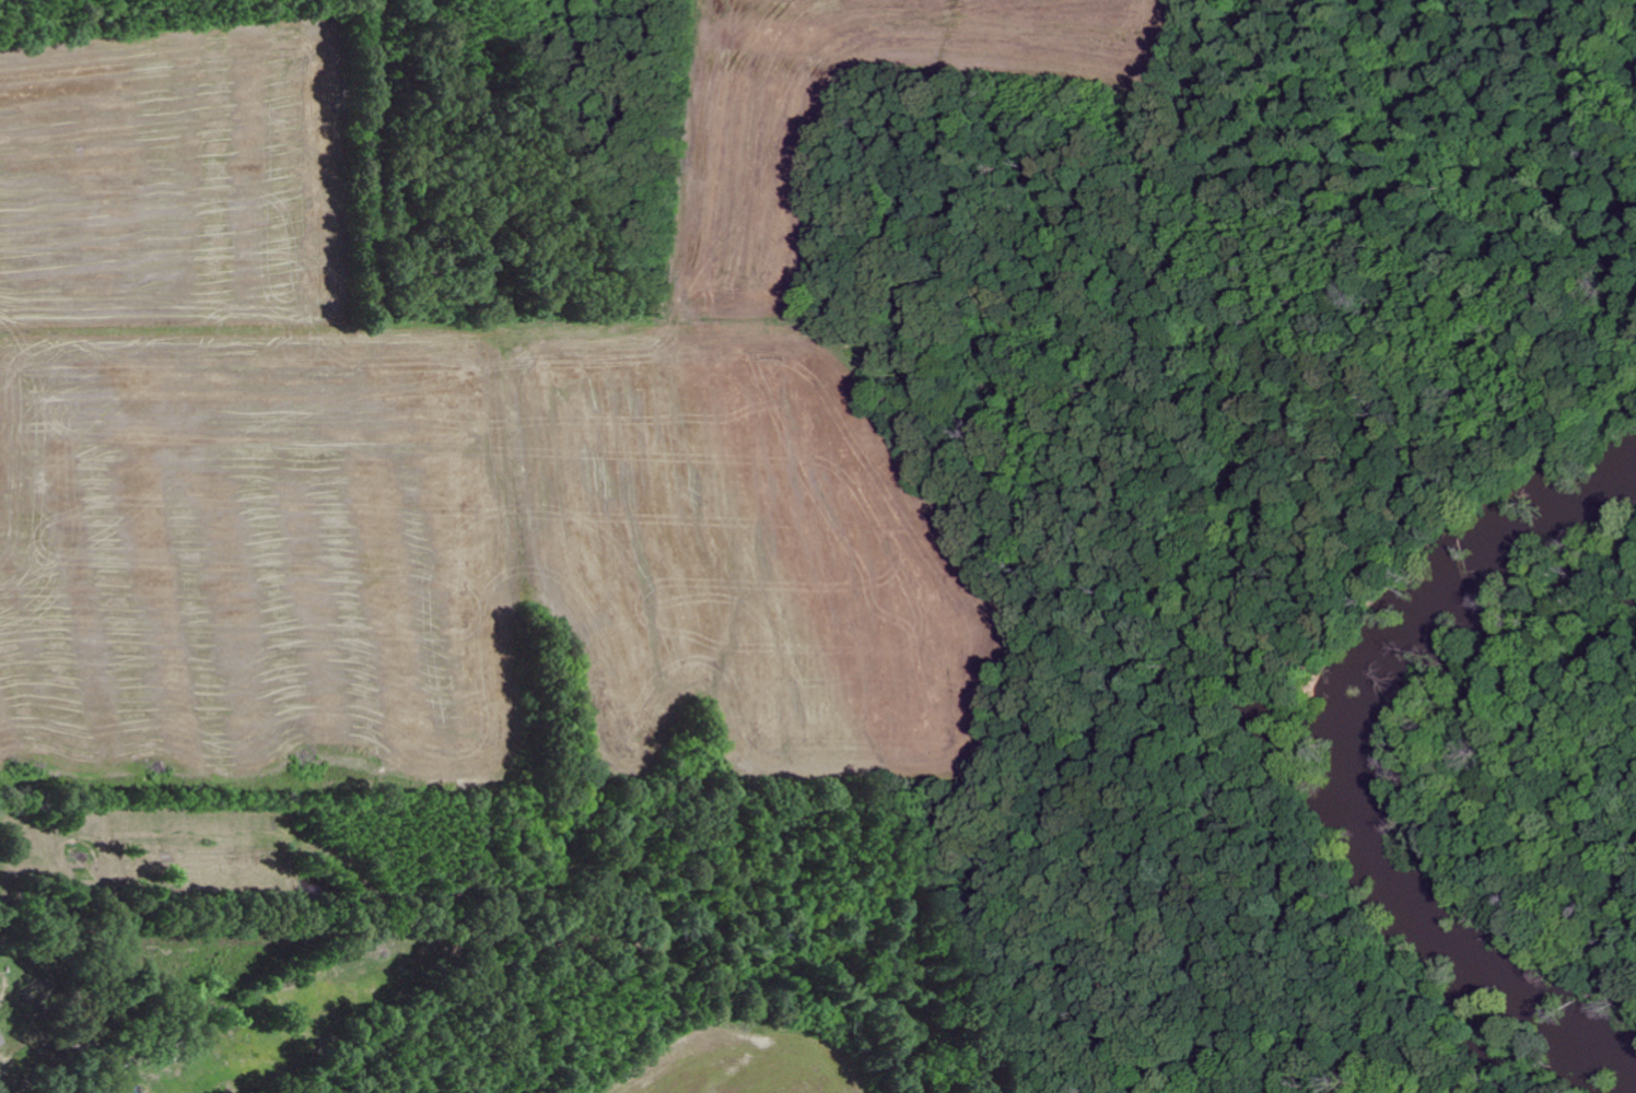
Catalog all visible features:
river: (1365, 762)

